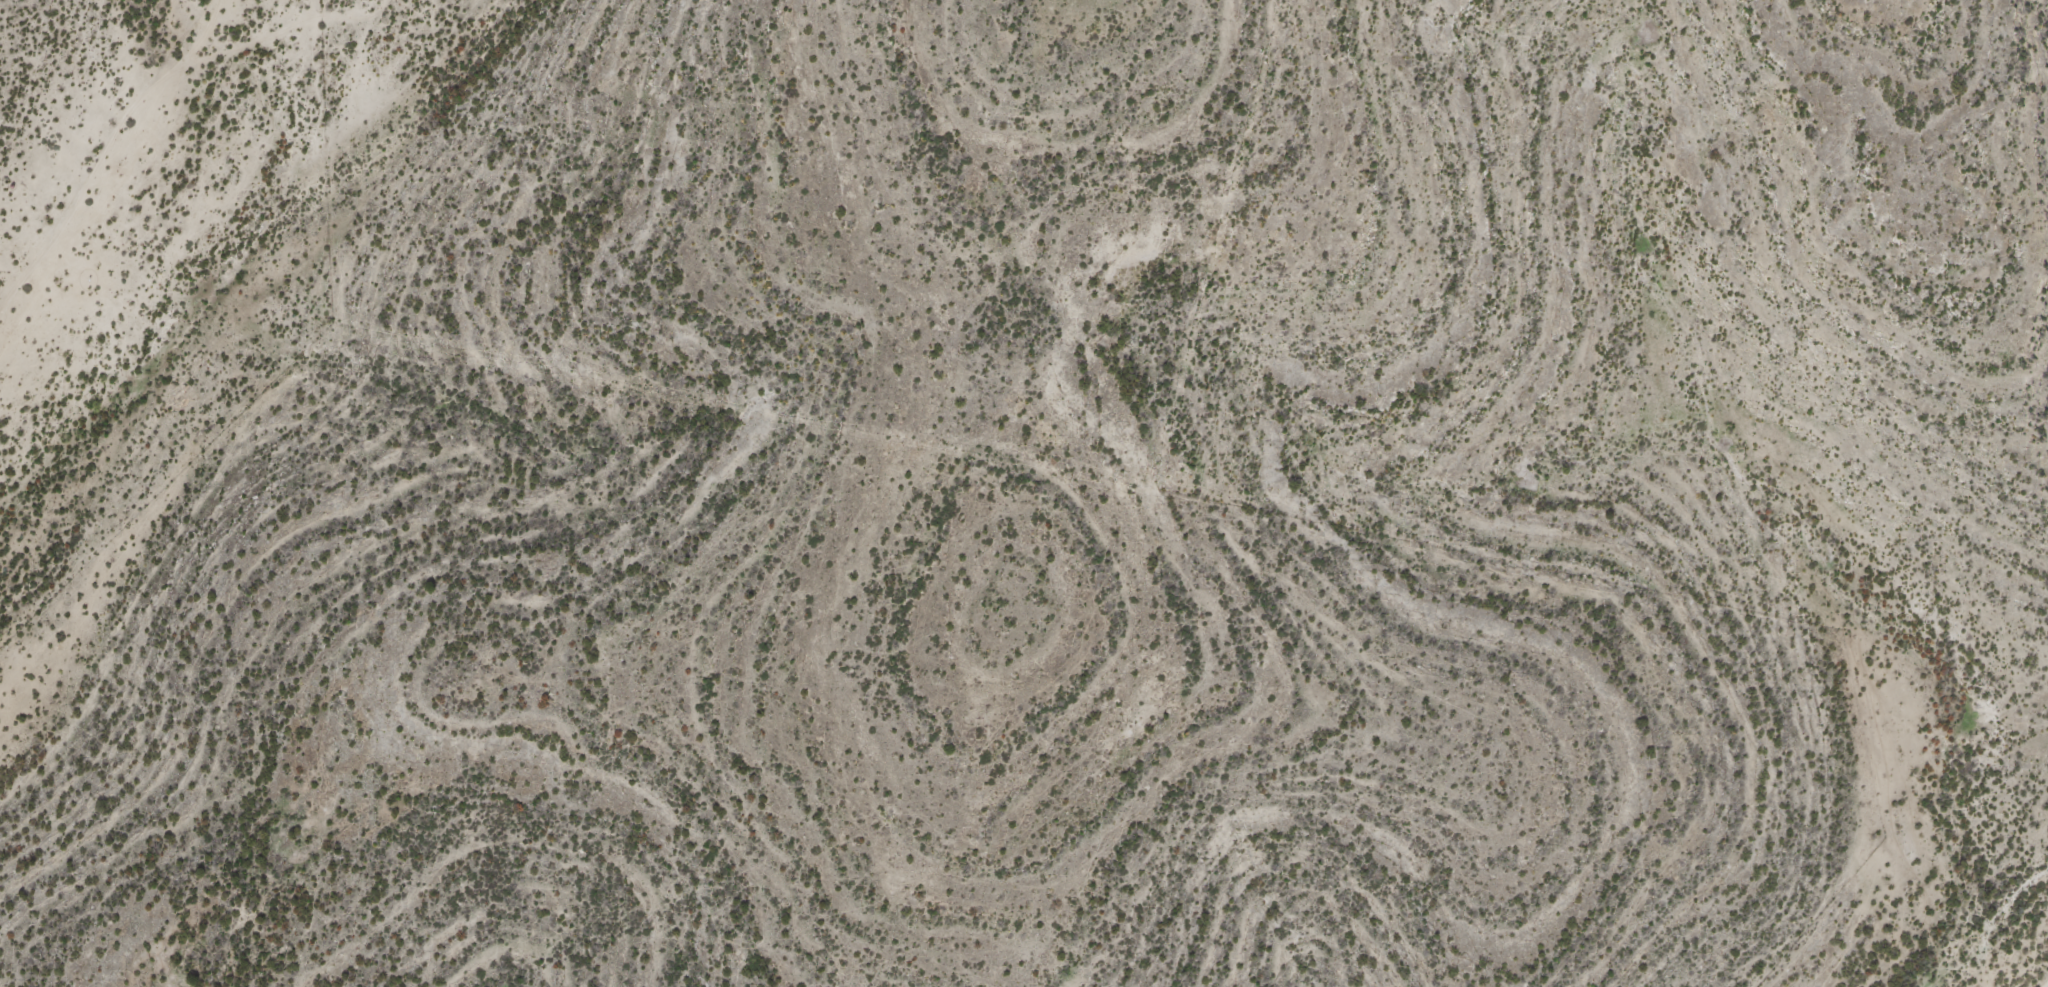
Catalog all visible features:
road: (107, 160)

